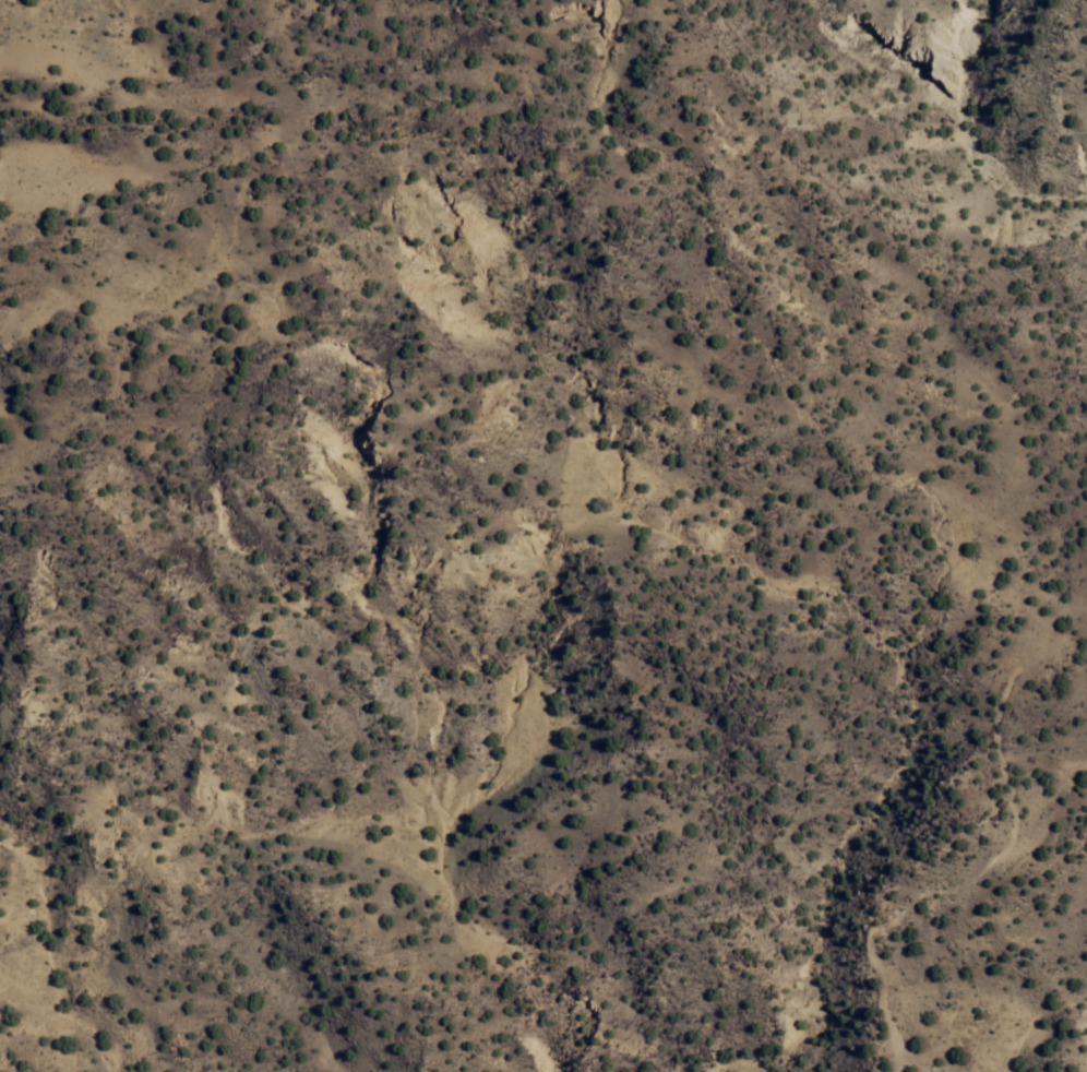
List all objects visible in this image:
road: (656, 538)

